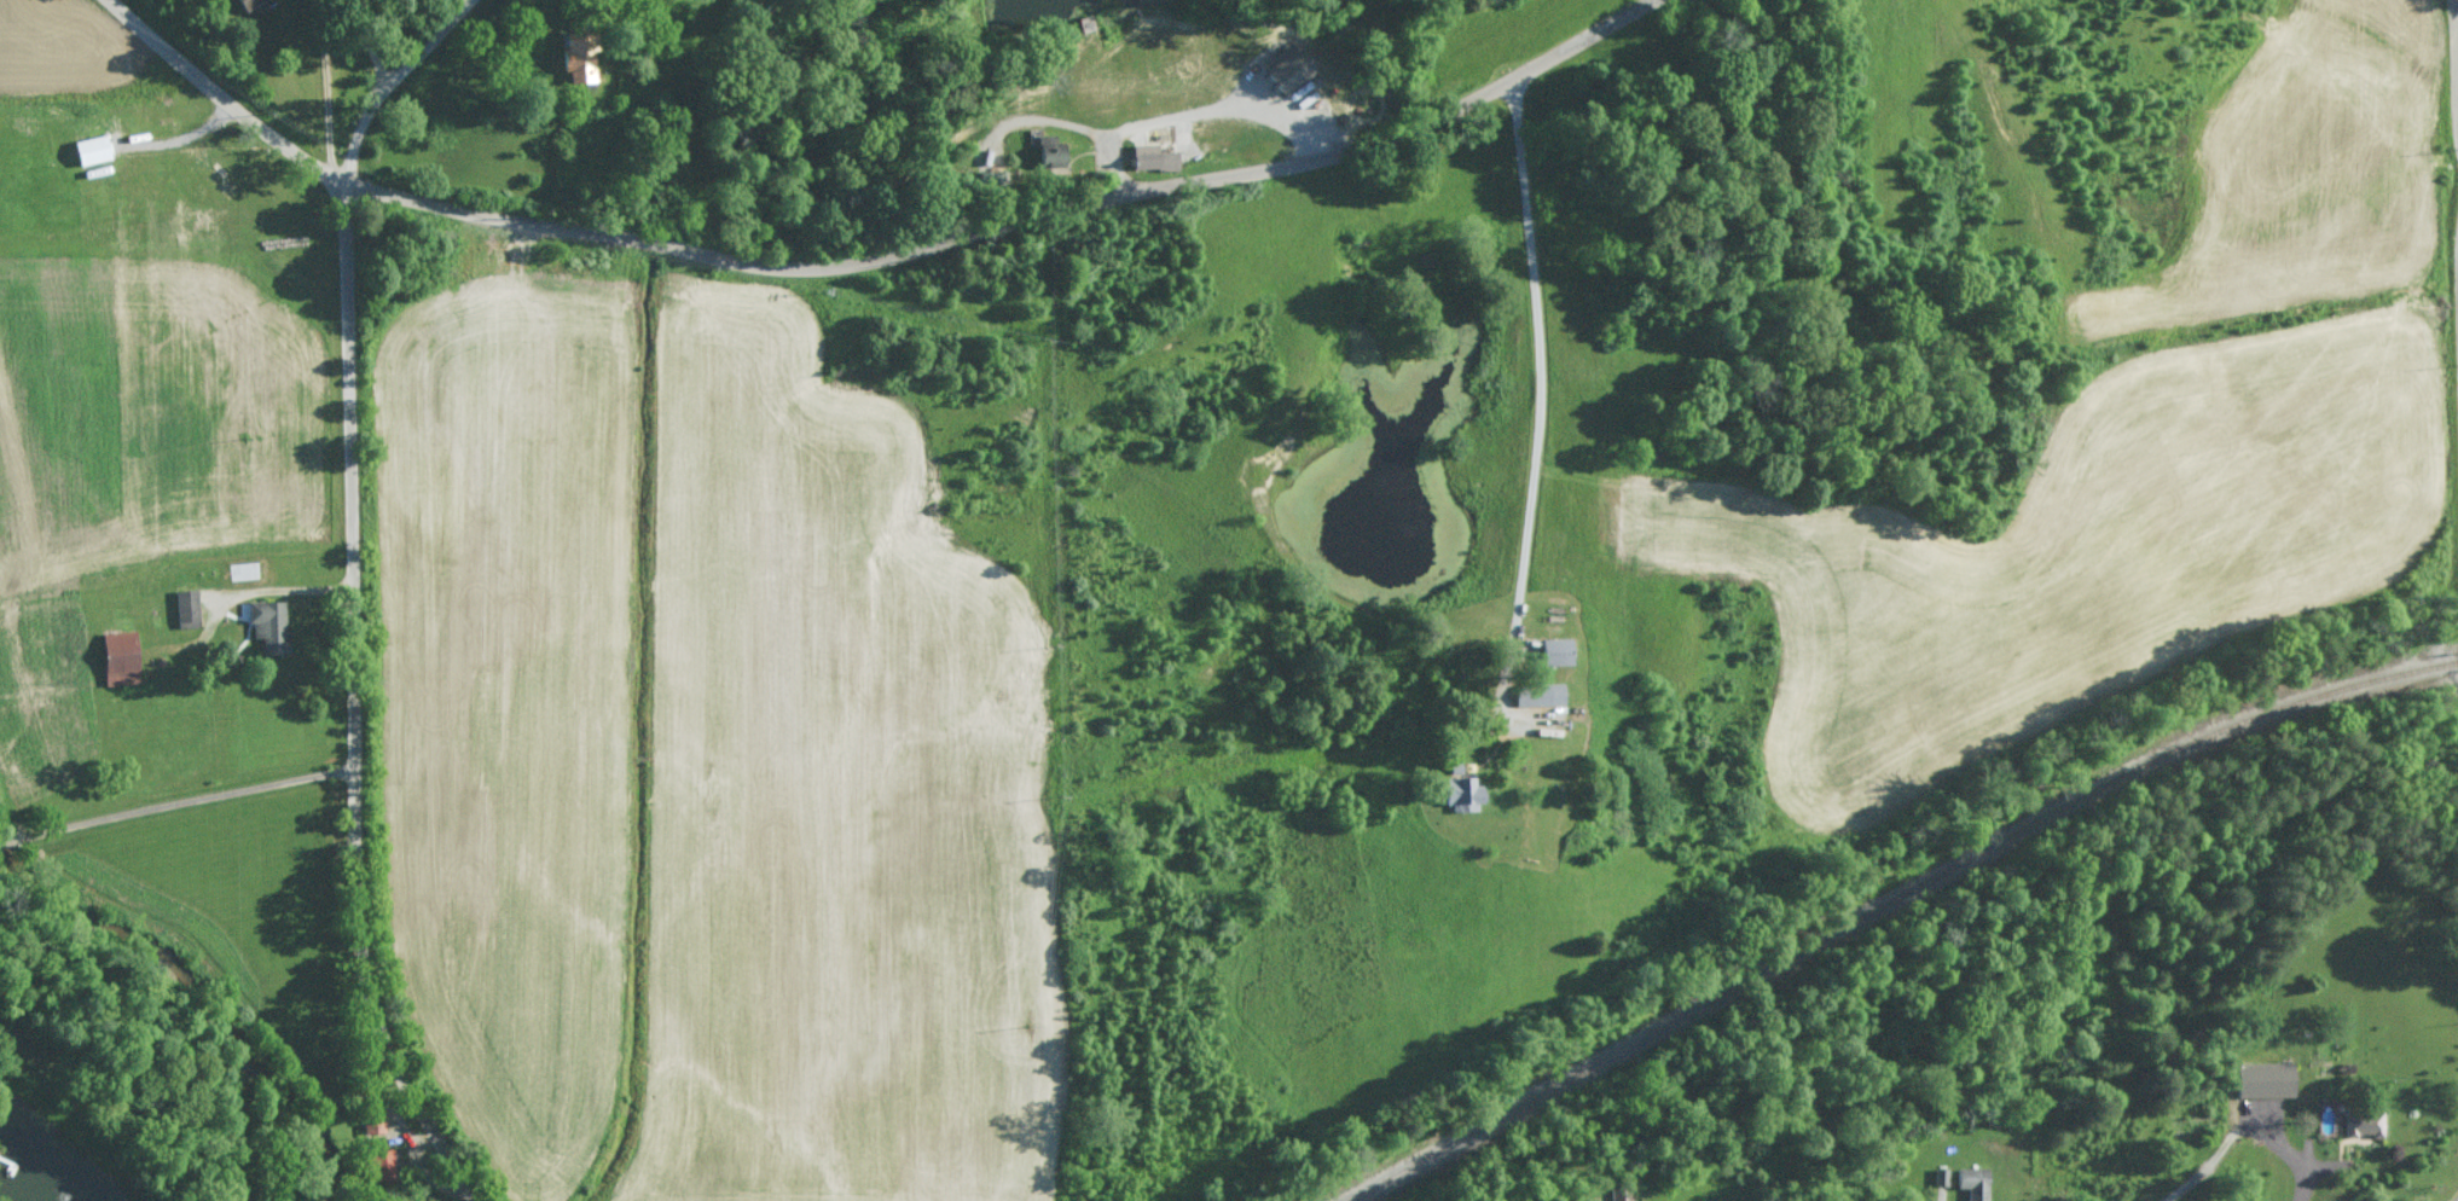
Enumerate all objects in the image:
building: (250, 4)
road: (370, 48)
building: (582, 58)
road: (2454, 58)
building: (1294, 68)
road: (396, 83)
road: (325, 87)
road: (225, 94)
building: (94, 149)
building: (1156, 158)
road: (1010, 220)
road: (1546, 358)
building: (187, 608)
building: (272, 626)
building: (1552, 650)
building: (123, 657)
building: (1535, 694)
road: (358, 704)
building: (1456, 793)
road: (185, 797)
road: (7, 837)
railway: (1891, 903)
building: (2260, 1079)
building: (375, 1121)
building: (2360, 1122)
building: (1937, 1177)
building: (1970, 1182)

